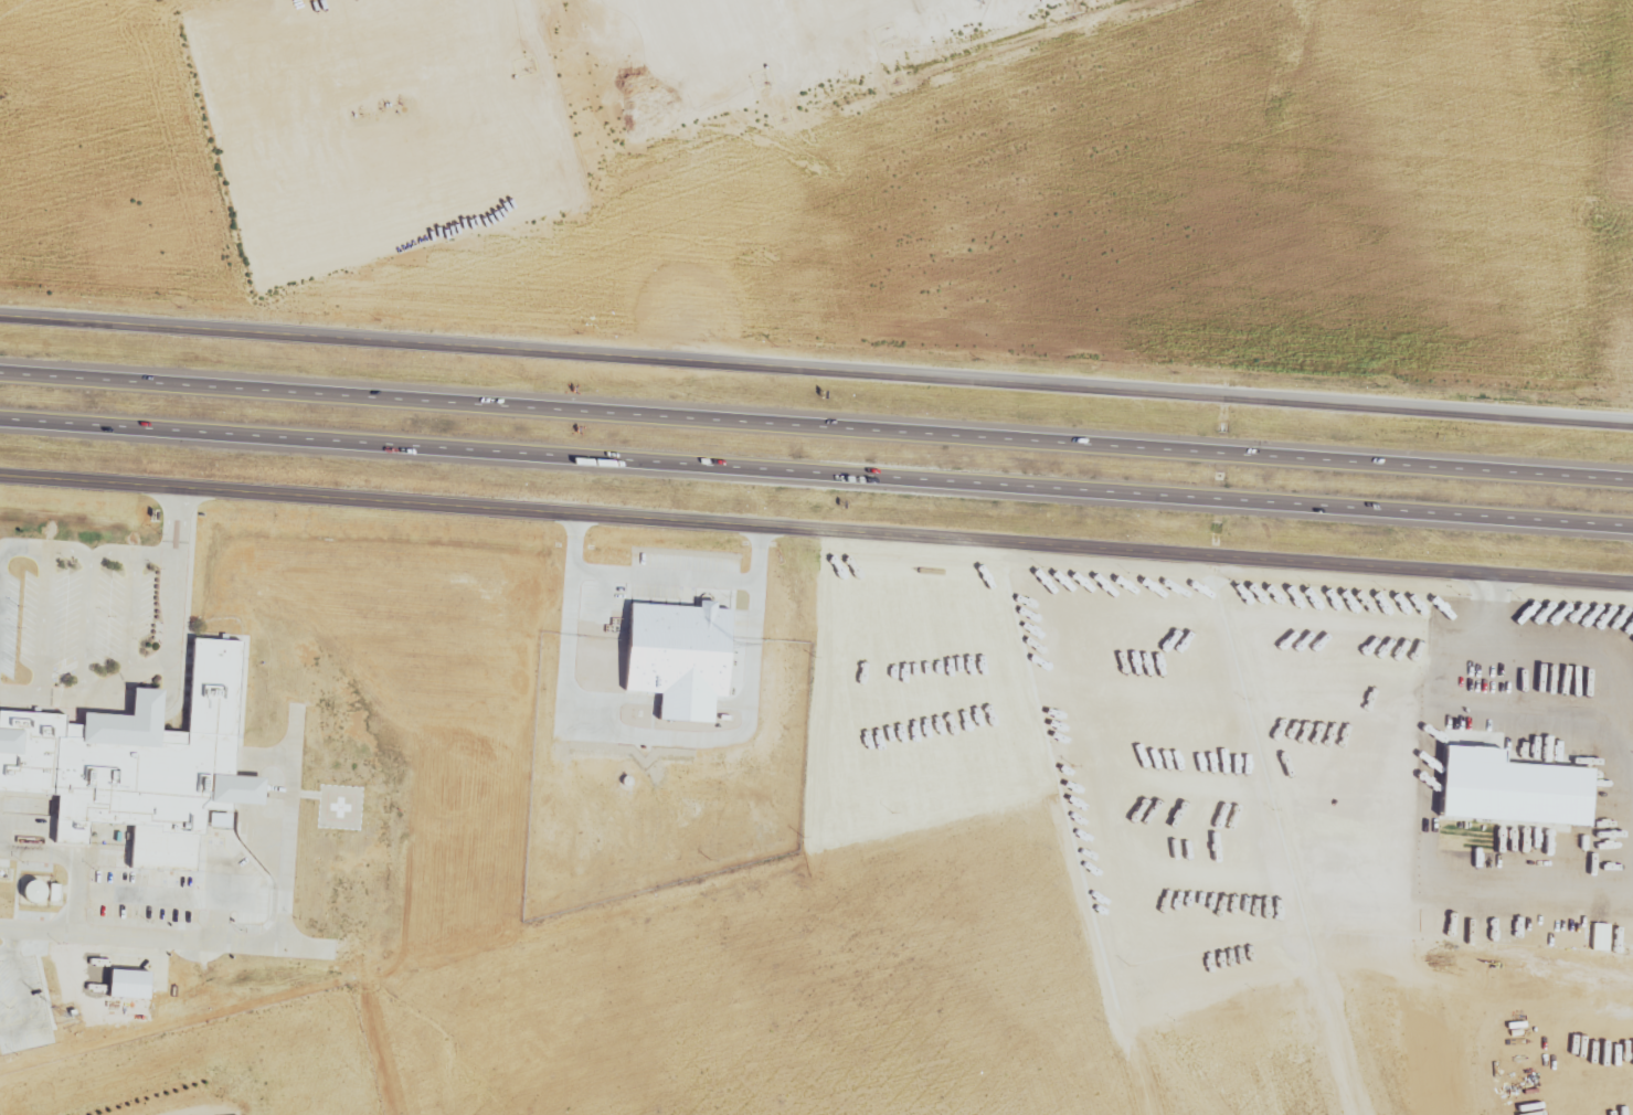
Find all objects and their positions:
power tower: (0, 97)
road: (1539, 206)
road: (1599, 247)
road: (817, 358)
road: (816, 425)
road: (816, 470)
road: (168, 521)
road: (187, 522)
road: (816, 525)
road: (86, 552)
road: (1485, 602)
road: (131, 615)
road: (89, 624)
road: (43, 625)
road: (1603, 663)
road: (132, 675)
road: (1258, 703)
helipad: (340, 804)
road: (1412, 845)
road: (76, 889)
road: (24, 991)

